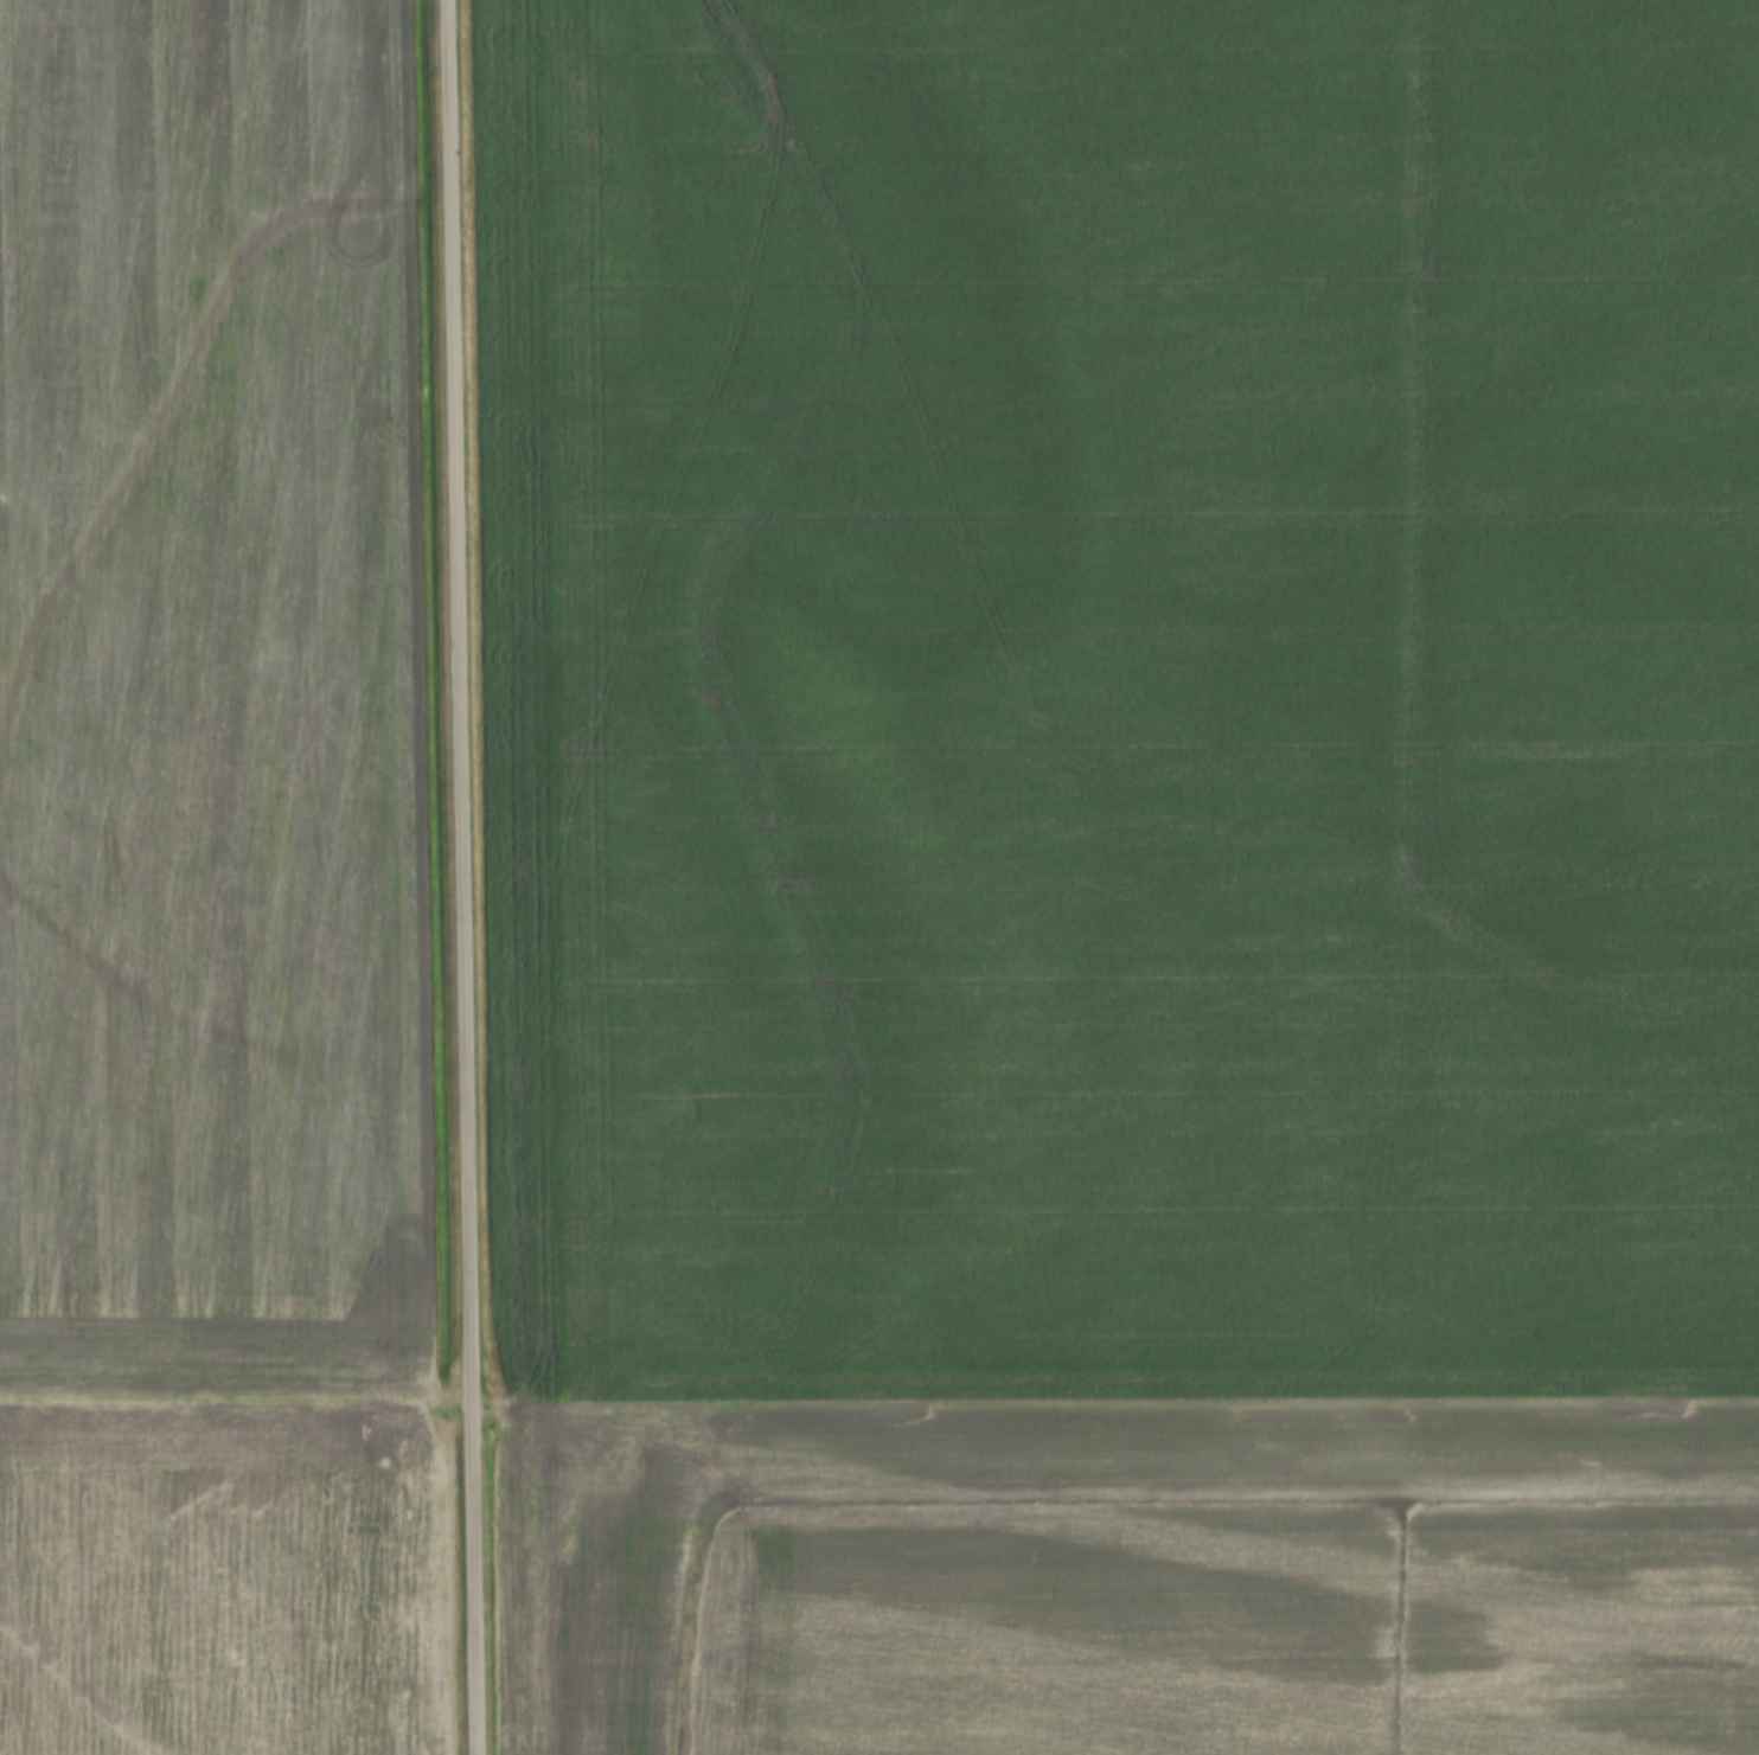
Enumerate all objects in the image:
road: (460, 877)
road: (1114, 1405)

